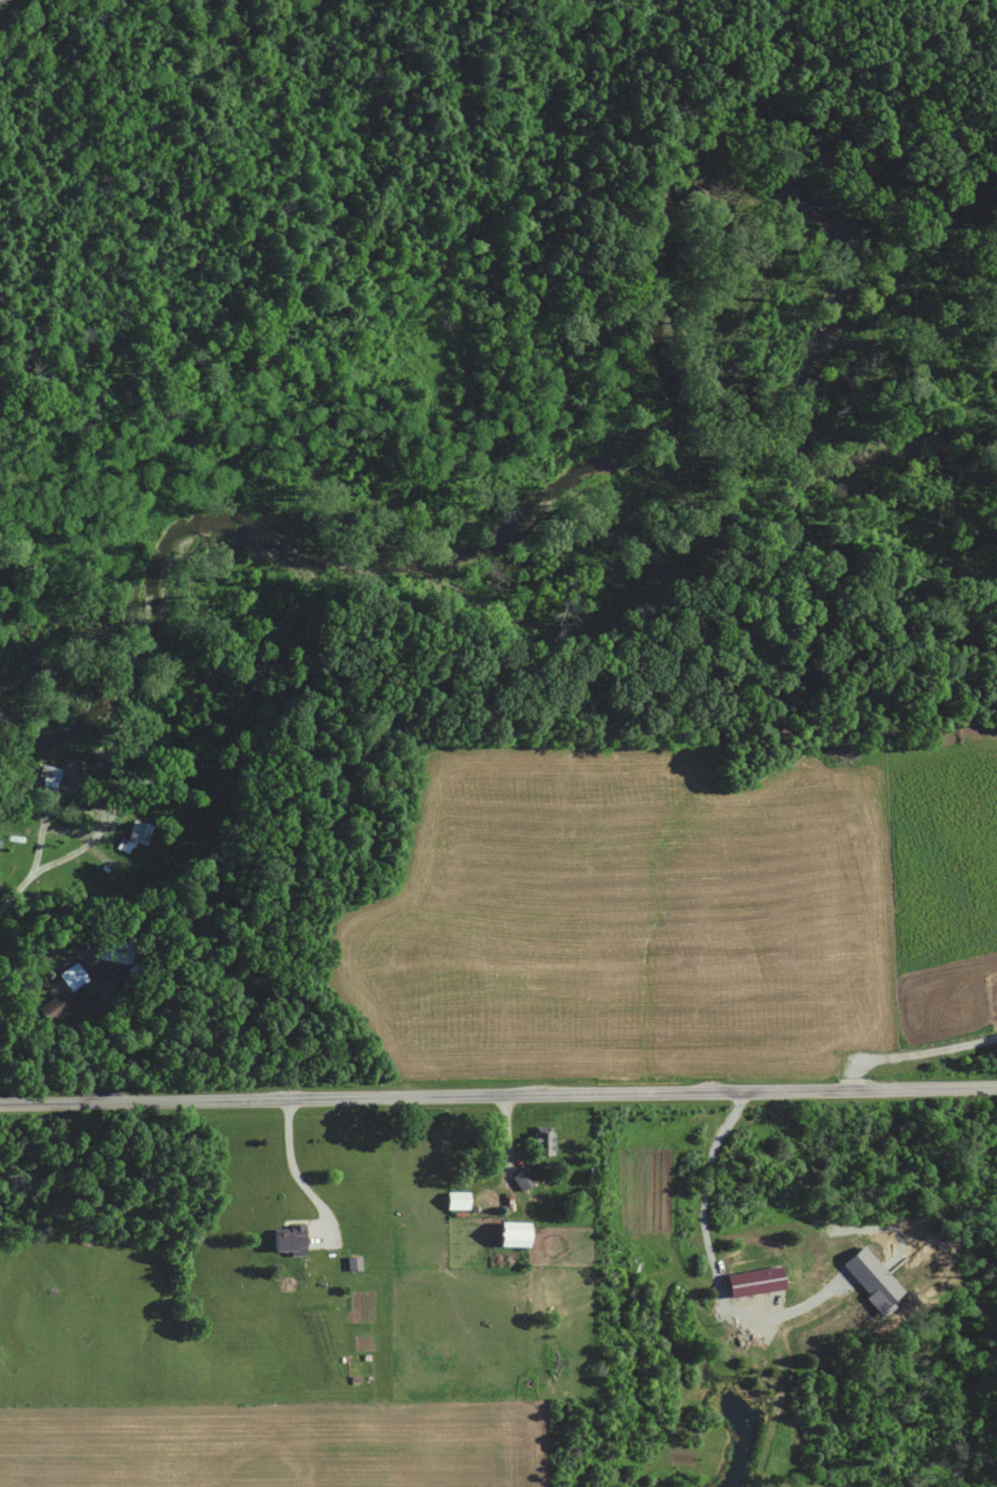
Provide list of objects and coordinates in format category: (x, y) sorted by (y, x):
road: (38, 861)
road: (99, 1010)
road: (914, 1055)
road: (498, 1098)
building: (541, 1141)
road: (294, 1173)
building: (523, 1179)
road: (705, 1192)
building: (510, 1235)
building: (288, 1242)

